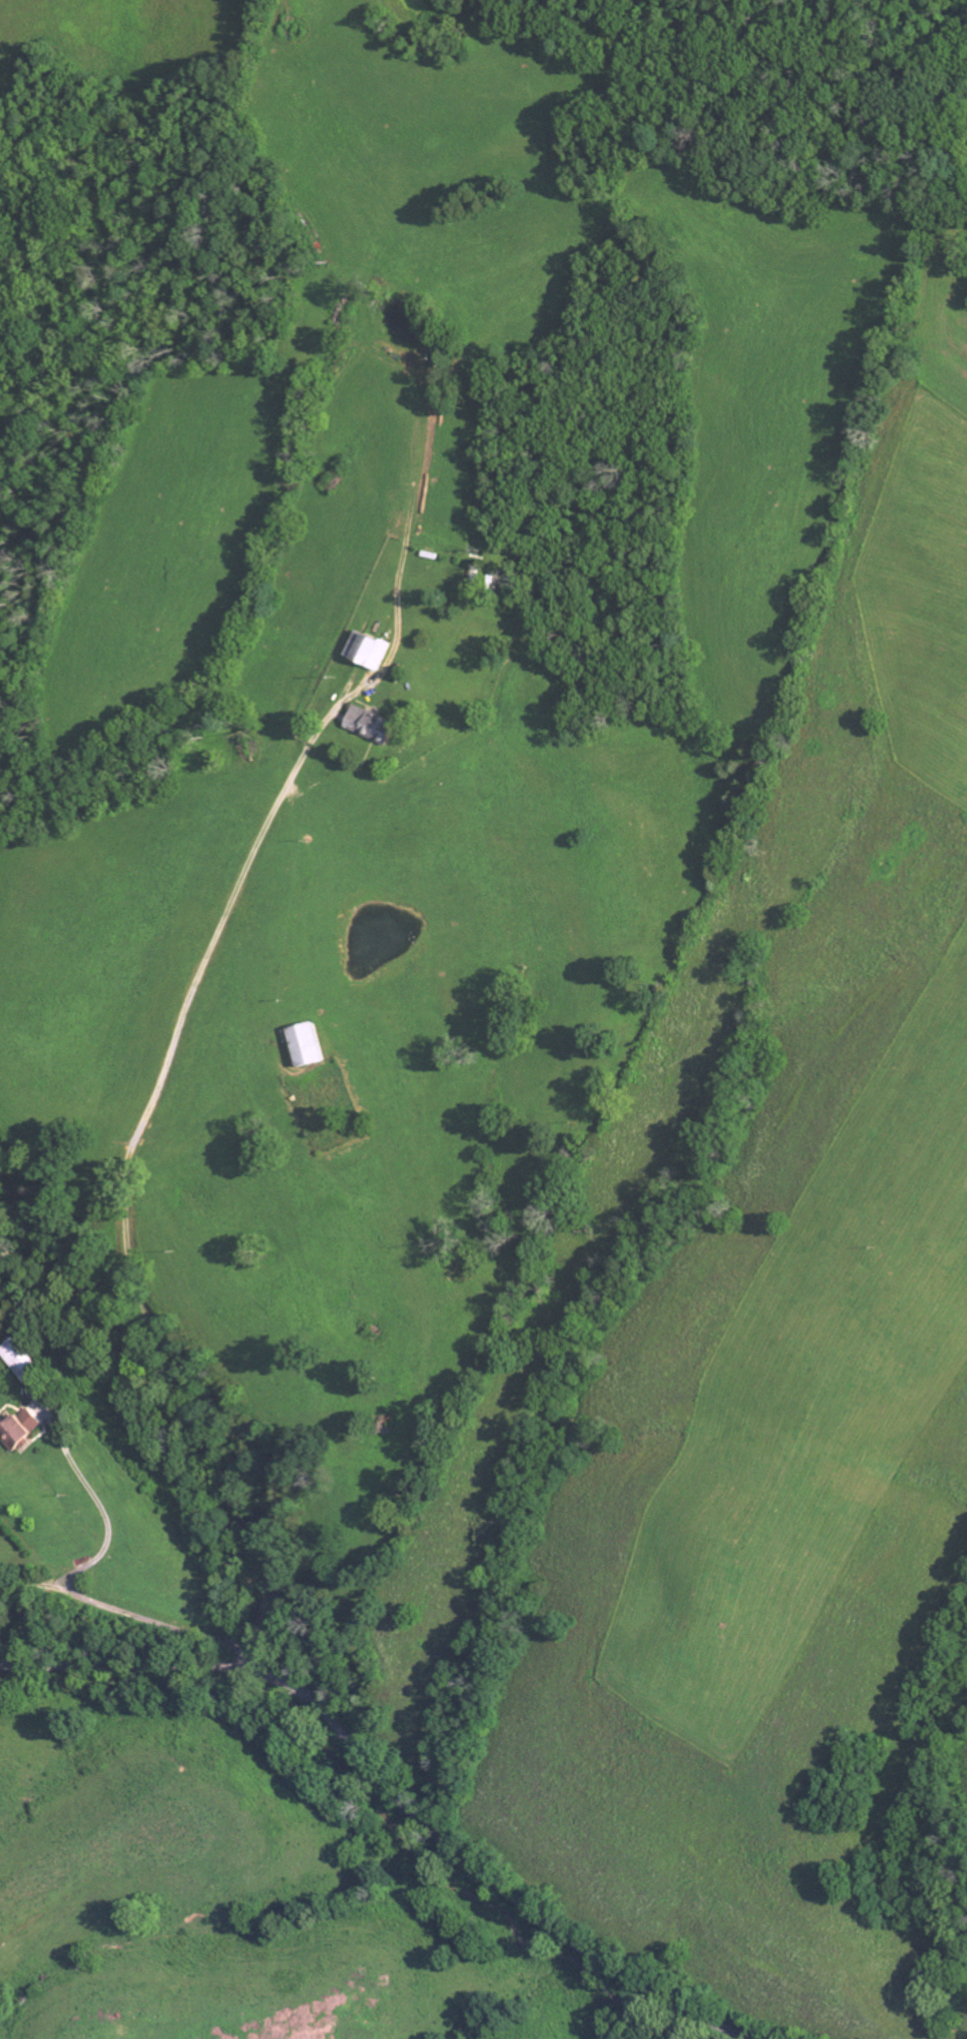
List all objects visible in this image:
building: (371, 650)
building: (375, 725)
building: (313, 1045)
road: (127, 1185)
building: (26, 1360)
building: (25, 1431)
road: (81, 1581)
road: (44, 1584)
road: (392, 1791)

